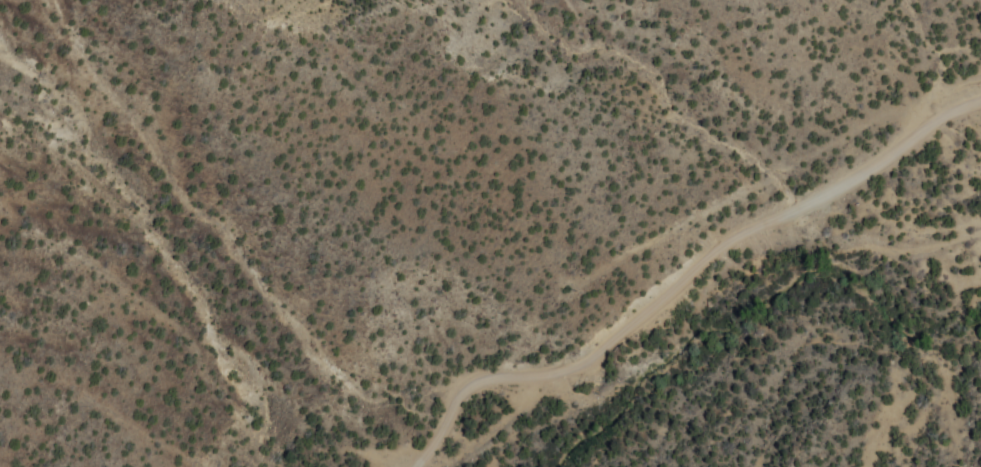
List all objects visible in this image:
road: (685, 282)

